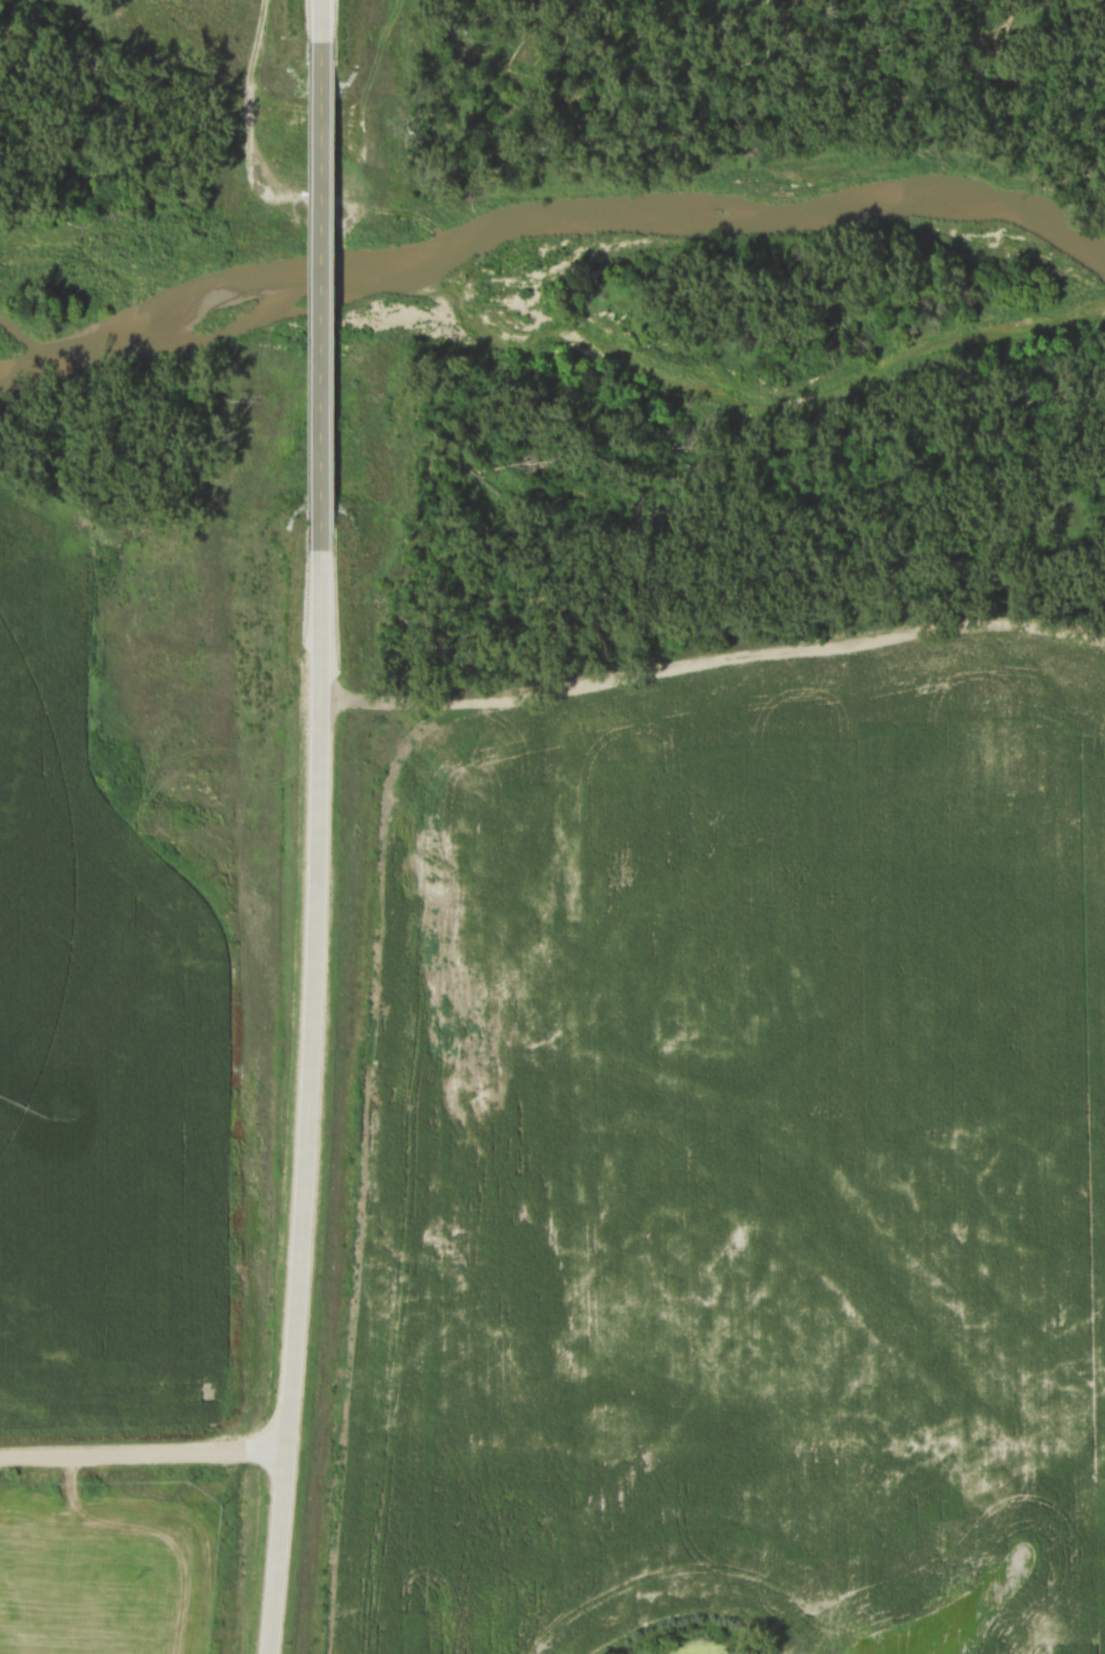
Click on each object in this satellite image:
road: (313, 27)
river: (550, 222)
road: (315, 278)
river: (722, 394)
road: (306, 1079)
road: (140, 1455)

